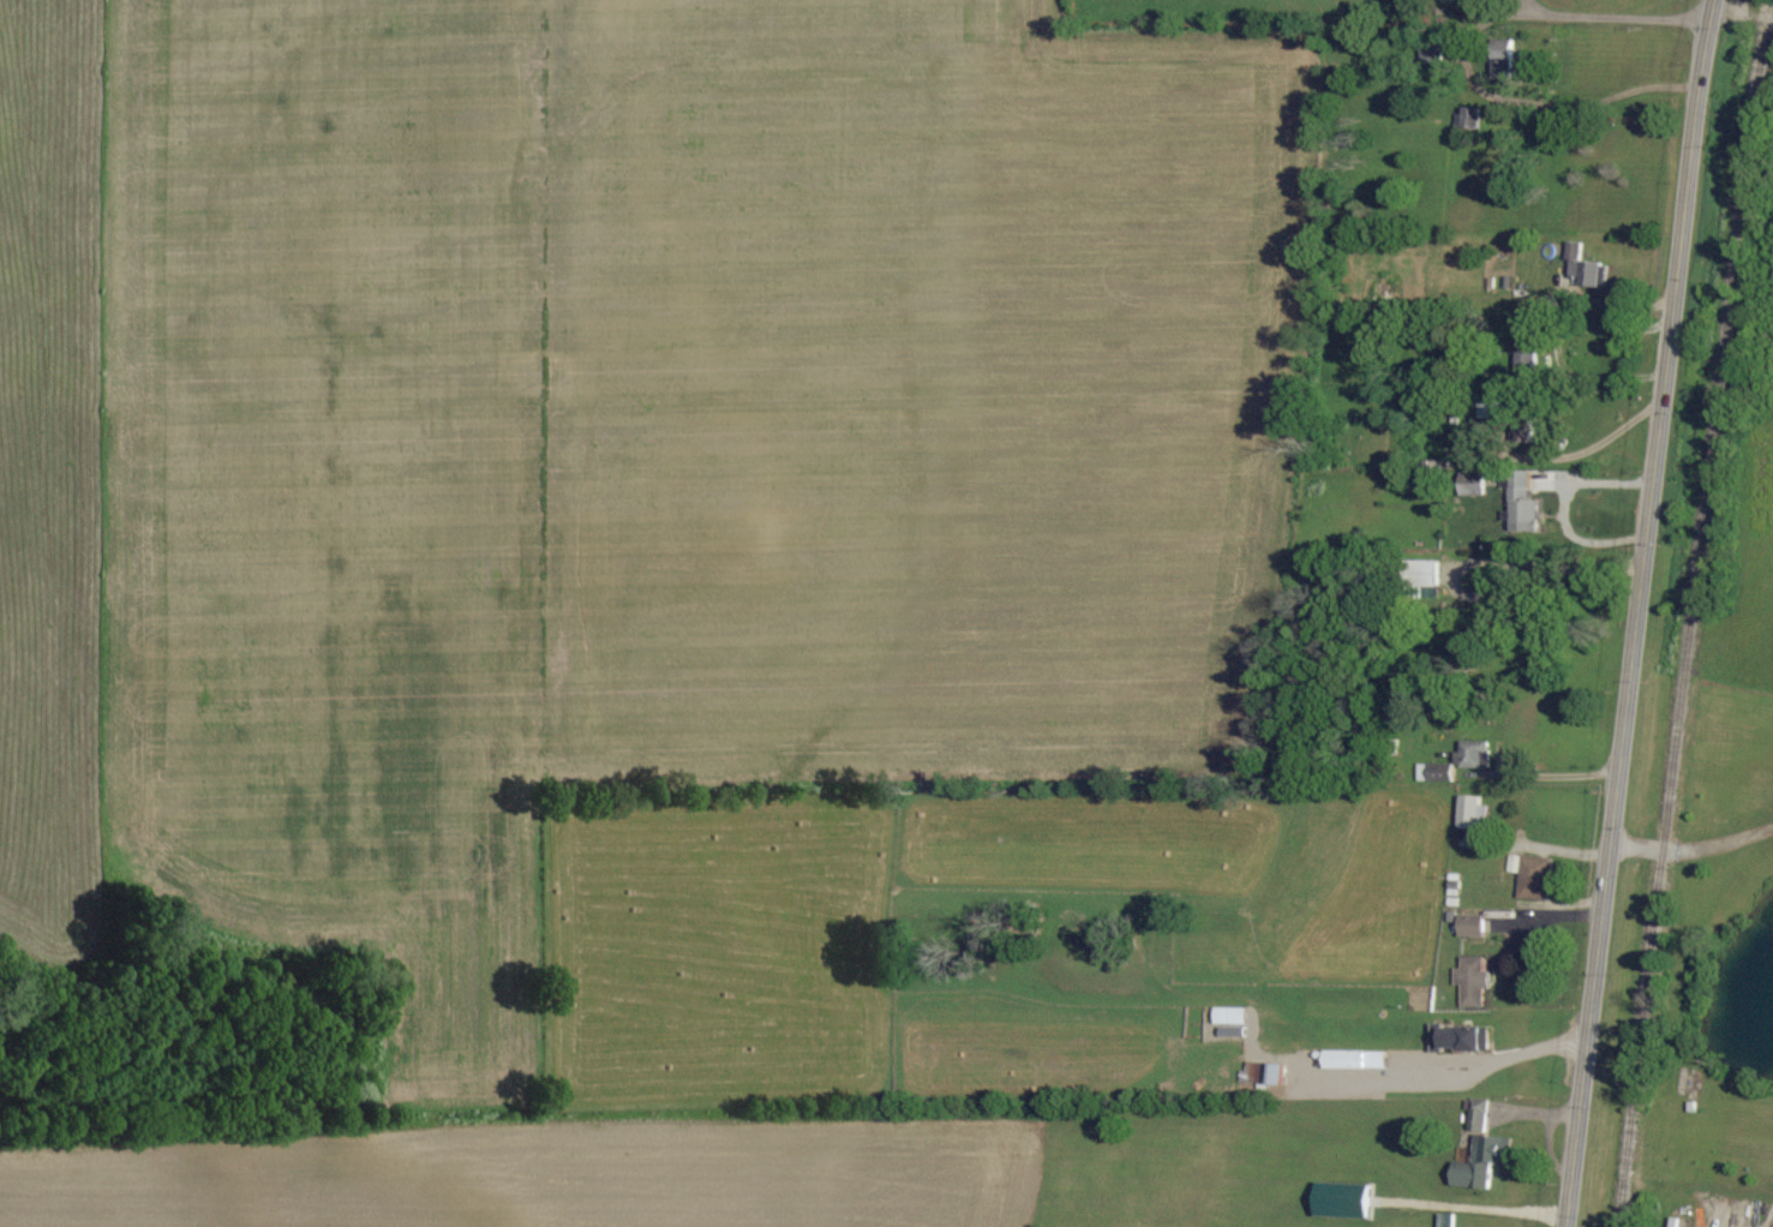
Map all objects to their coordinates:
road: (1741, 14)
building: (1502, 59)
building: (1467, 118)
building: (1583, 268)
building: (1523, 349)
building: (1522, 430)
building: (1469, 485)
building: (1521, 505)
building: (1421, 574)
road: (1634, 612)
railway: (1691, 612)
building: (1472, 754)
building: (1433, 773)
building: (1469, 812)
building: (1529, 876)
building: (1468, 926)
building: (1472, 982)
building: (1226, 1018)
building: (1458, 1040)
building: (1353, 1060)
building: (1263, 1075)
building: (1476, 1115)
building: (1480, 1162)
building: (1338, 1202)
building: (1444, 1220)

